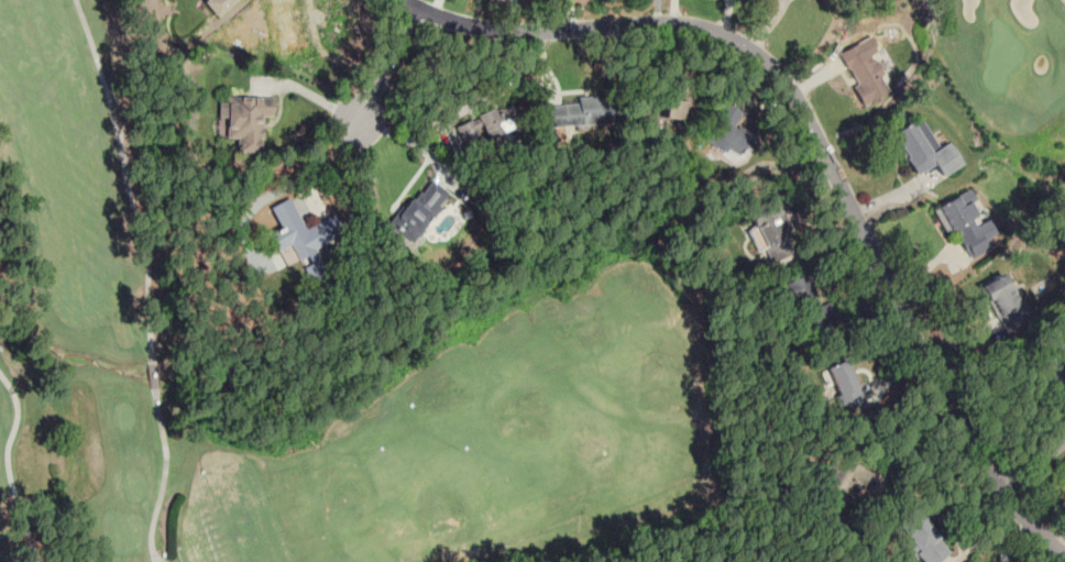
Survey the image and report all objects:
road: (1064, 0)
building: (217, 5)
road: (658, 11)
park: (1017, 63)
road: (382, 64)
building: (864, 73)
building: (673, 104)
building: (578, 112)
building: (244, 120)
building: (483, 124)
building: (728, 134)
road: (821, 147)
building: (923, 148)
road: (321, 165)
building: (417, 211)
building: (964, 223)
building: (301, 231)
building: (770, 232)
road: (147, 277)
building: (809, 299)
building: (1003, 301)
building: (1053, 365)
park: (359, 383)
building: (844, 387)
road: (894, 450)
road: (1031, 463)
road: (7, 466)
road: (984, 533)
building: (921, 538)

